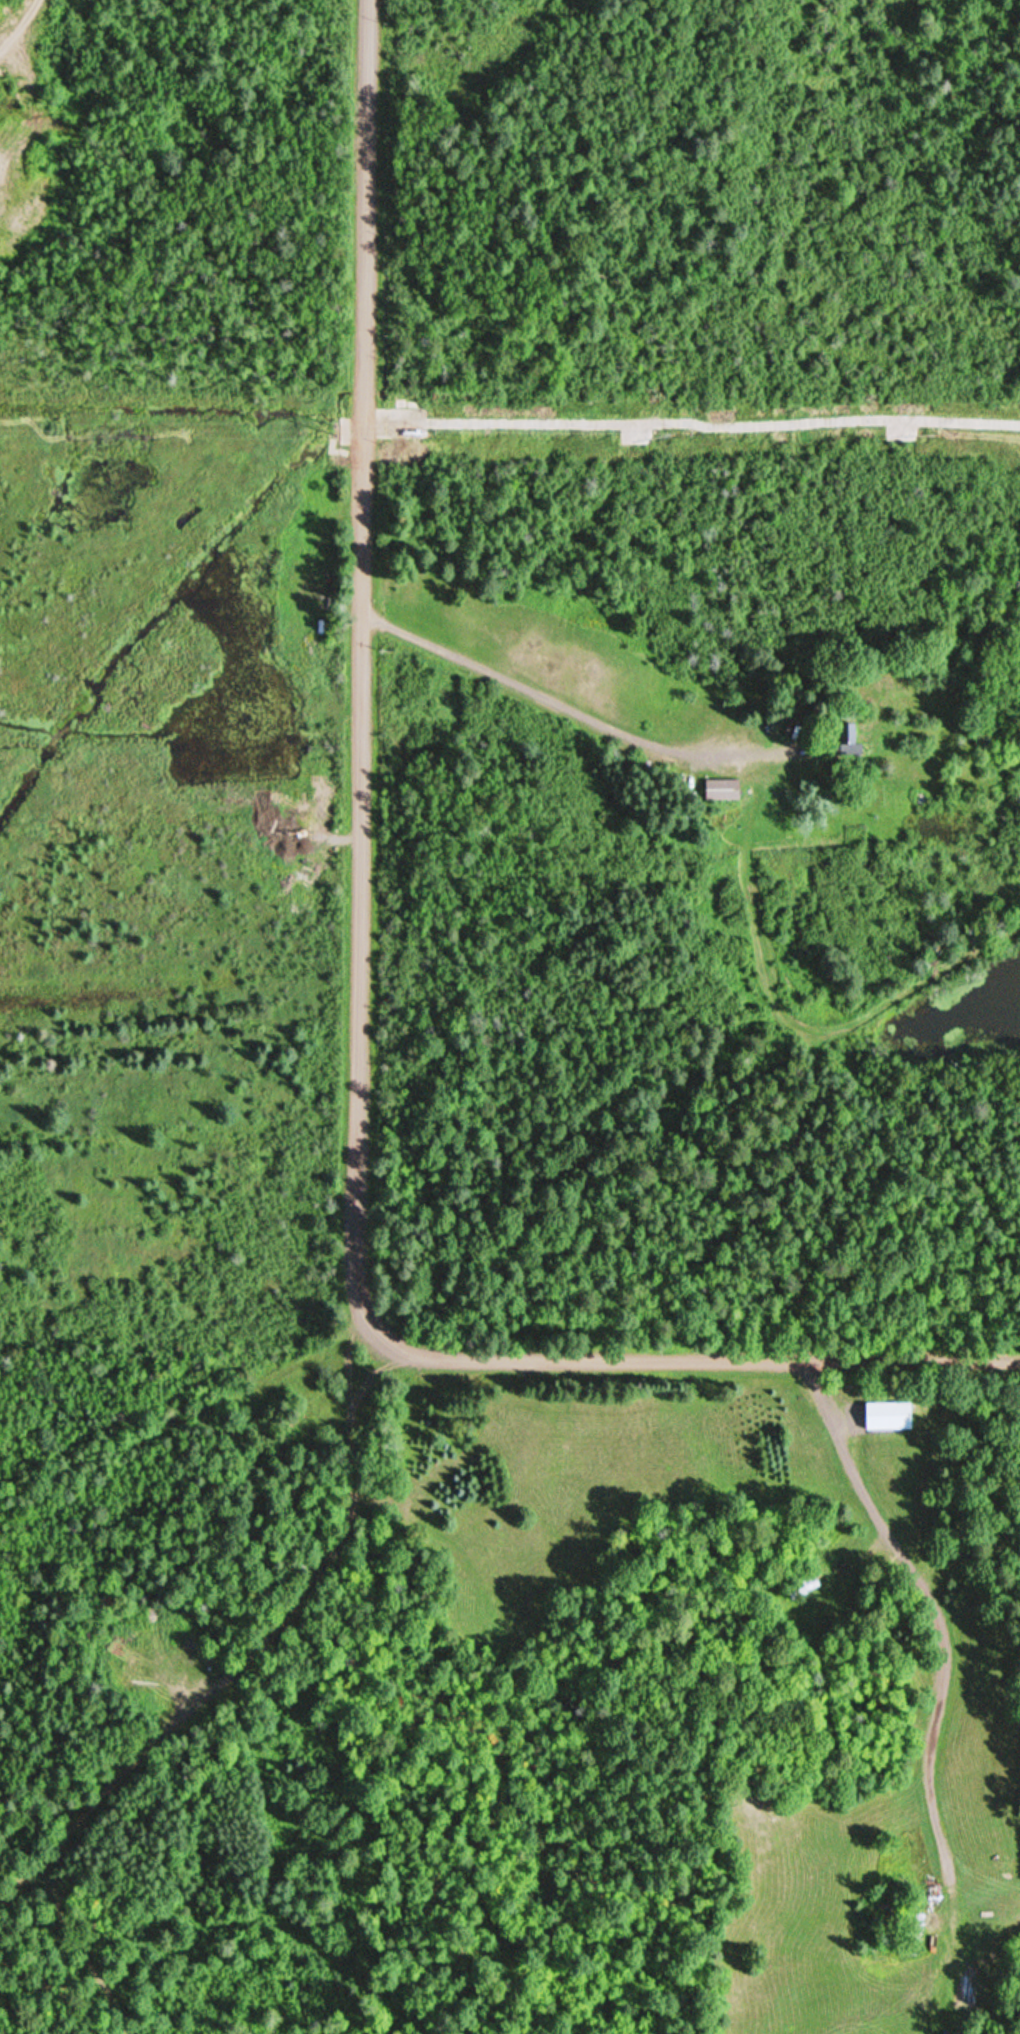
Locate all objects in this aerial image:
road: (359, 662)
road: (566, 710)
building: (726, 788)
road: (683, 1354)
building: (890, 1415)

